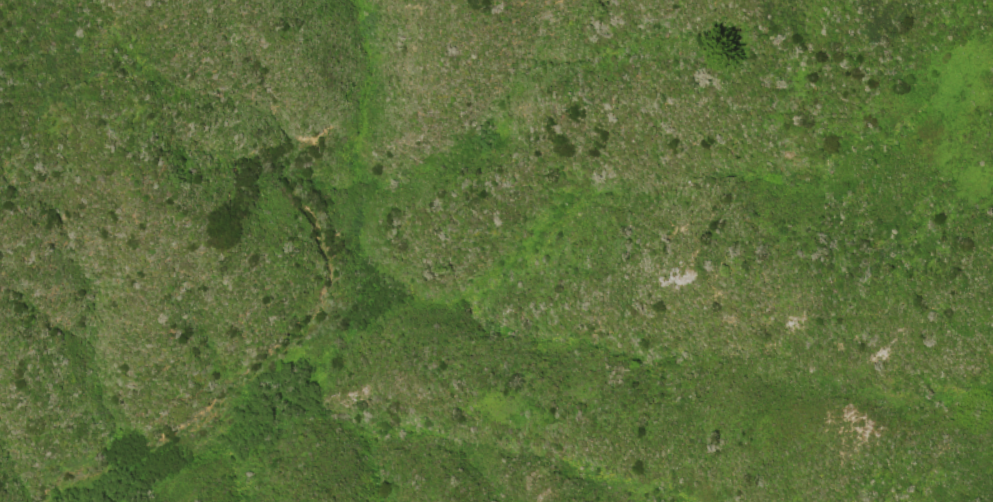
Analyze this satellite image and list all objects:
park: (740, 252)

